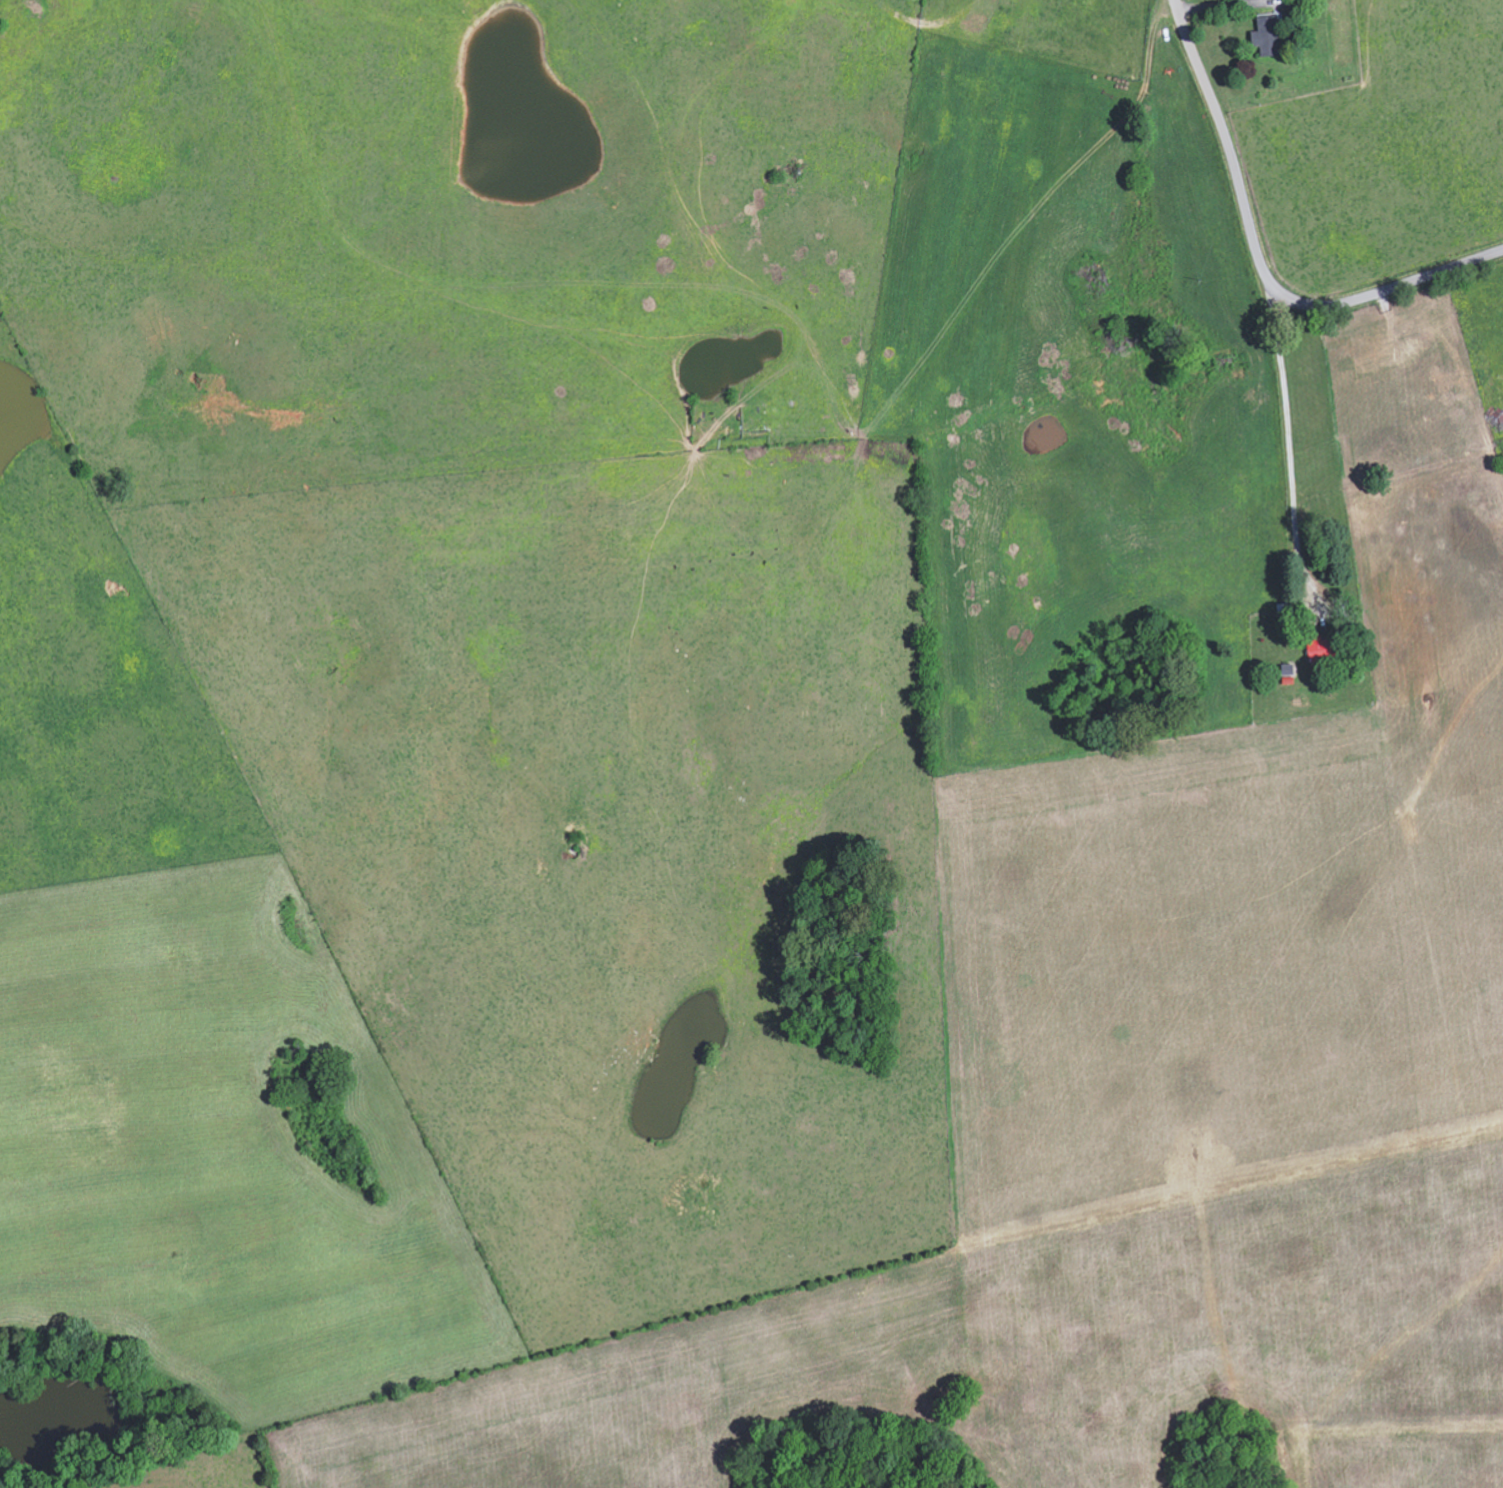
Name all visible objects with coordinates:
building: (1267, 35)
road: (1259, 258)
road: (1289, 443)
building: (1322, 649)

